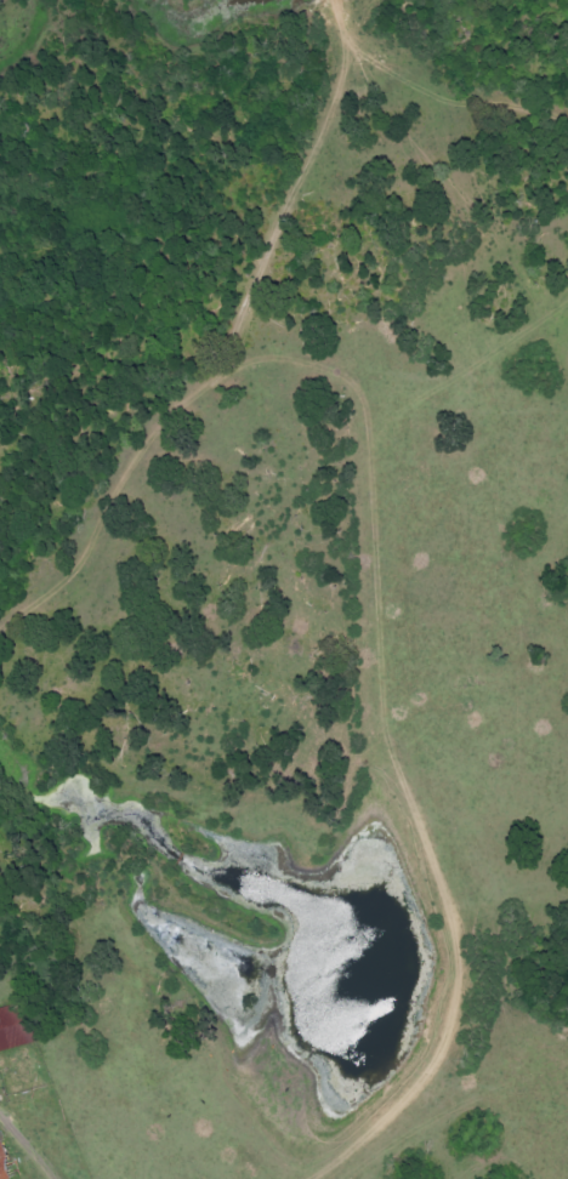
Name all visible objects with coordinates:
road: (369, 566)
building: (303, 627)
building: (11, 1029)
road: (11, 1116)
road: (40, 1156)
building: (5, 1167)

